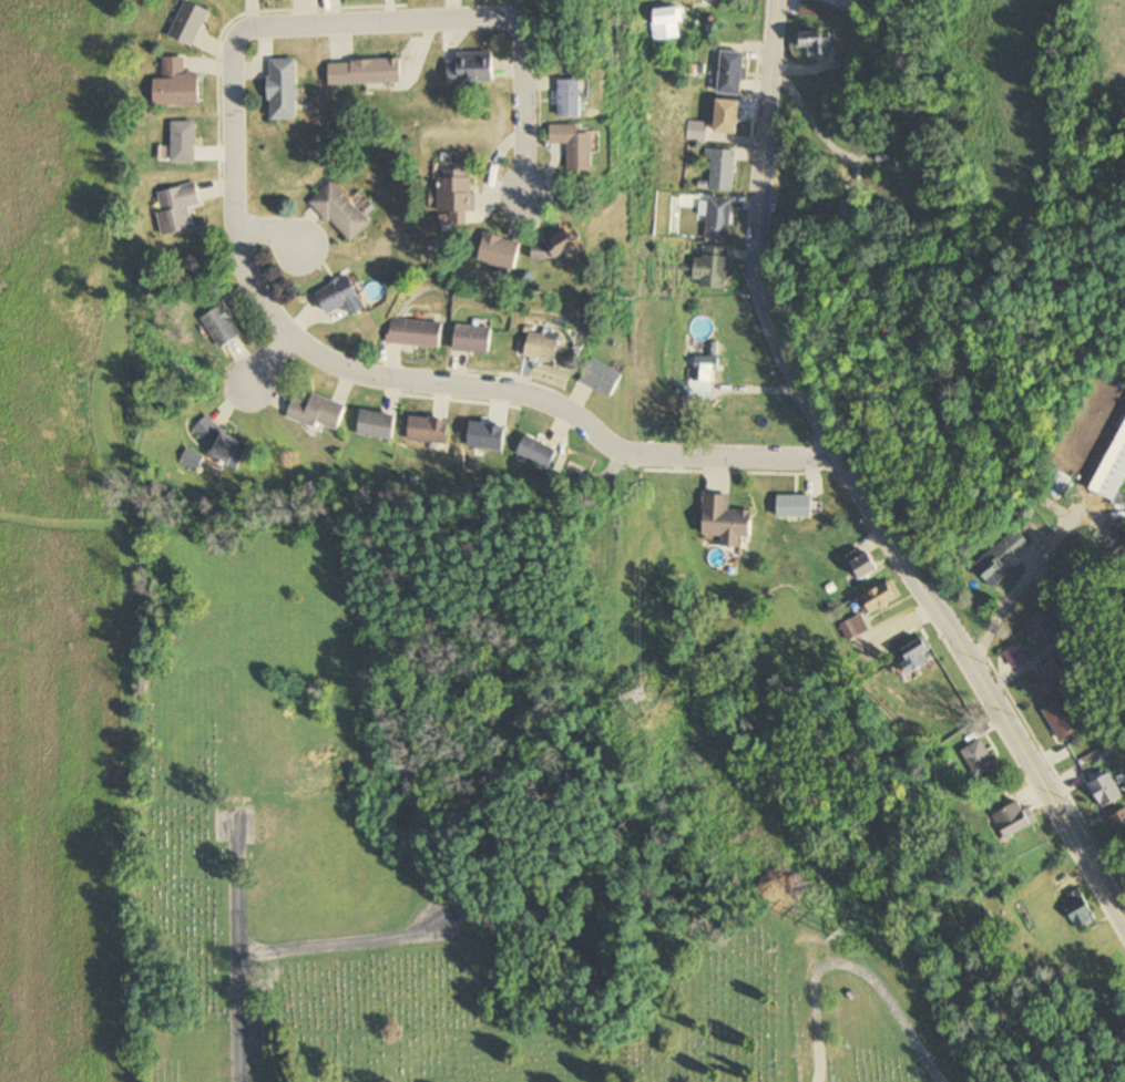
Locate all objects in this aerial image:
building: (809, 10)
building: (190, 23)
building: (667, 24)
building: (814, 43)
building: (471, 68)
building: (366, 73)
building: (732, 73)
building: (177, 86)
building: (285, 90)
building: (571, 100)
building: (727, 117)
building: (696, 132)
building: (184, 144)
building: (577, 147)
building: (722, 169)
building: (454, 193)
building: (177, 209)
building: (852, 210)
building: (341, 214)
building: (718, 219)
road: (269, 230)
road: (236, 246)
building: (556, 250)
building: (501, 254)
building: (712, 268)
building: (344, 299)
power tower: (637, 301)
building: (222, 328)
building: (416, 334)
building: (473, 340)
building: (543, 348)
road: (270, 360)
building: (602, 379)
building: (698, 382)
building: (319, 412)
building: (377, 424)
building: (429, 430)
building: (222, 444)
building: (539, 452)
building: (191, 458)
building: (1113, 471)
building: (574, 472)
building: (1058, 483)
road: (857, 486)
building: (795, 506)
building: (727, 521)
building: (1000, 558)
building: (865, 564)
building: (882, 596)
road: (1011, 598)
building: (853, 627)
building: (1015, 655)
building: (918, 656)
building: (1056, 674)
power tower: (648, 688)
building: (1062, 719)
building: (979, 759)
building: (1106, 791)
building: (1013, 822)
building: (1118, 825)
building: (1080, 909)
power tower: (836, 936)
road: (341, 945)
park: (512, 947)
road: (238, 952)
road: (851, 969)

